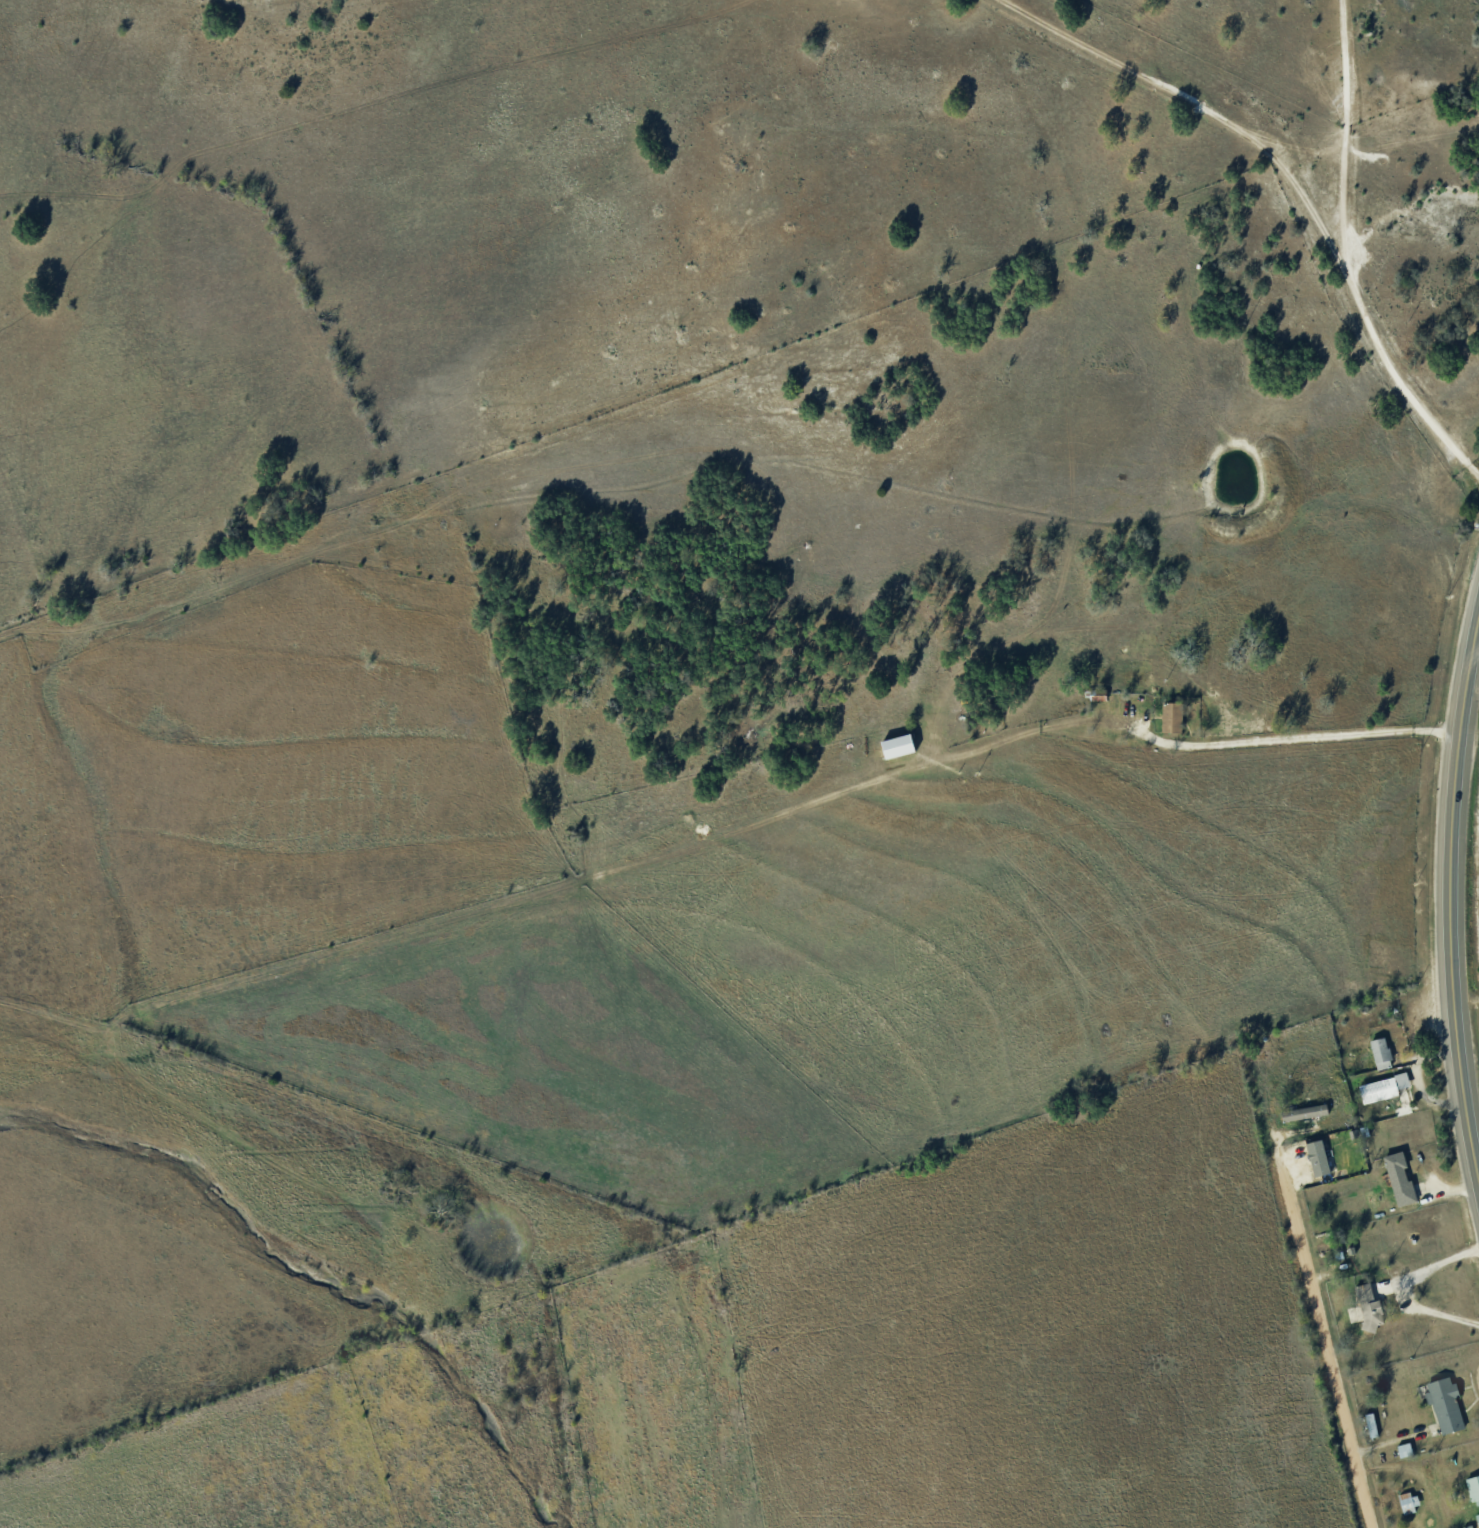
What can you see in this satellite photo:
road: (1201, 109)
road: (1343, 258)
building: (1172, 716)
road: (1295, 738)
building: (899, 745)
road: (1448, 896)
building: (1376, 1056)
building: (1384, 1095)
building: (1301, 1116)
road: (1475, 1156)
building: (1319, 1157)
building: (1395, 1183)
building: (1346, 1254)
building: (1334, 1258)
road: (1401, 1286)
building: (1364, 1312)
building: (1354, 1313)
road: (1322, 1323)
building: (1440, 1409)
building: (1366, 1431)
building: (1400, 1455)
building: (1471, 1495)
building: (1404, 1506)
building: (1478, 1517)
building: (1475, 1523)

